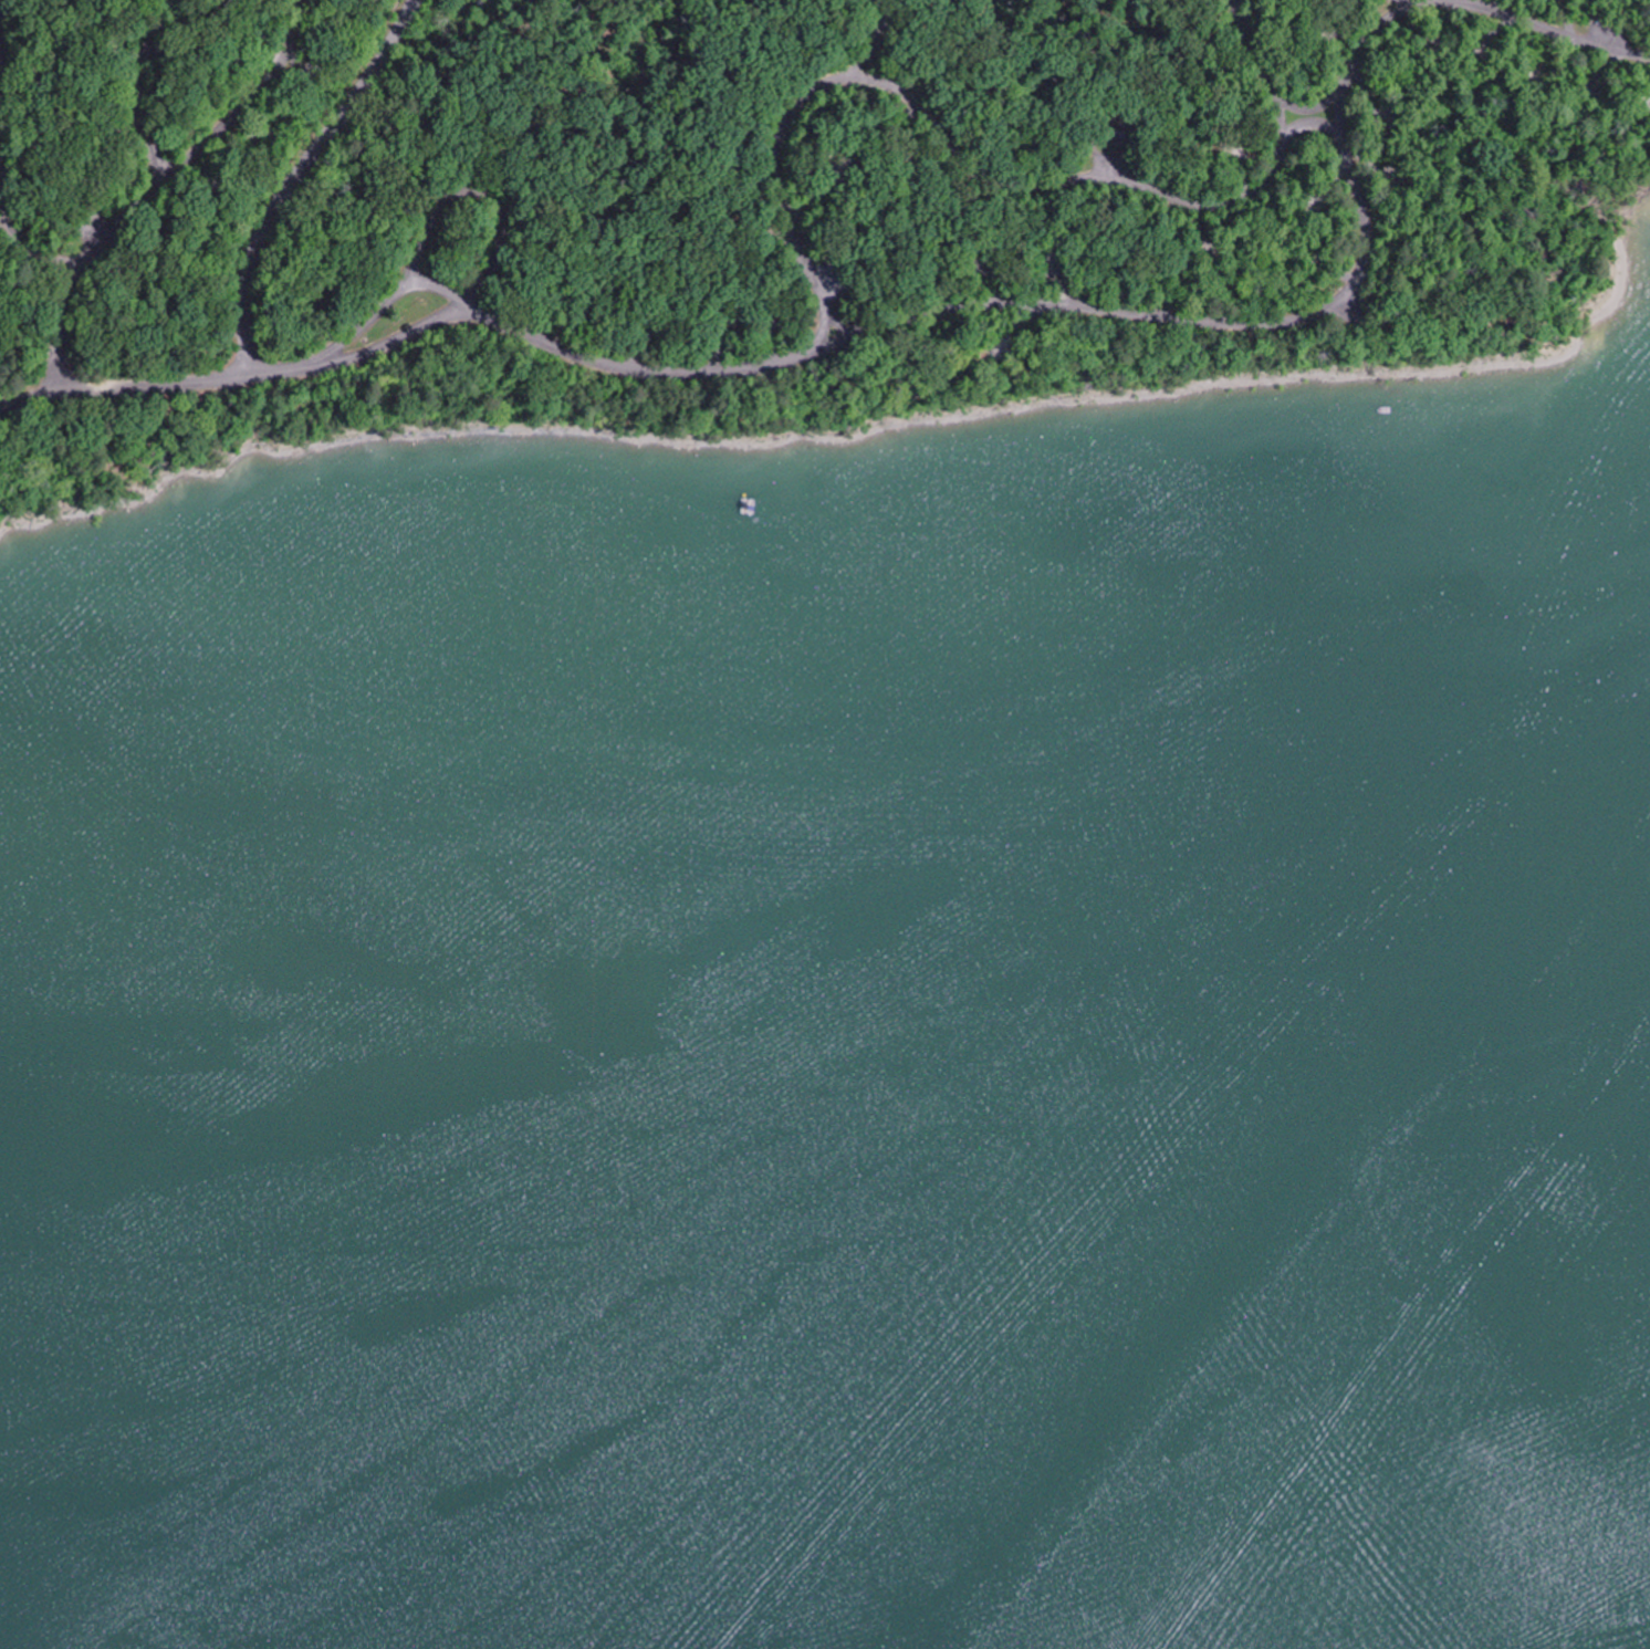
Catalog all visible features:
road: (1308, 123)
building: (1115, 128)
road: (289, 175)
road: (983, 178)
road: (483, 202)
road: (102, 237)
road: (389, 301)
road: (944, 311)
road: (838, 320)
road: (61, 328)

